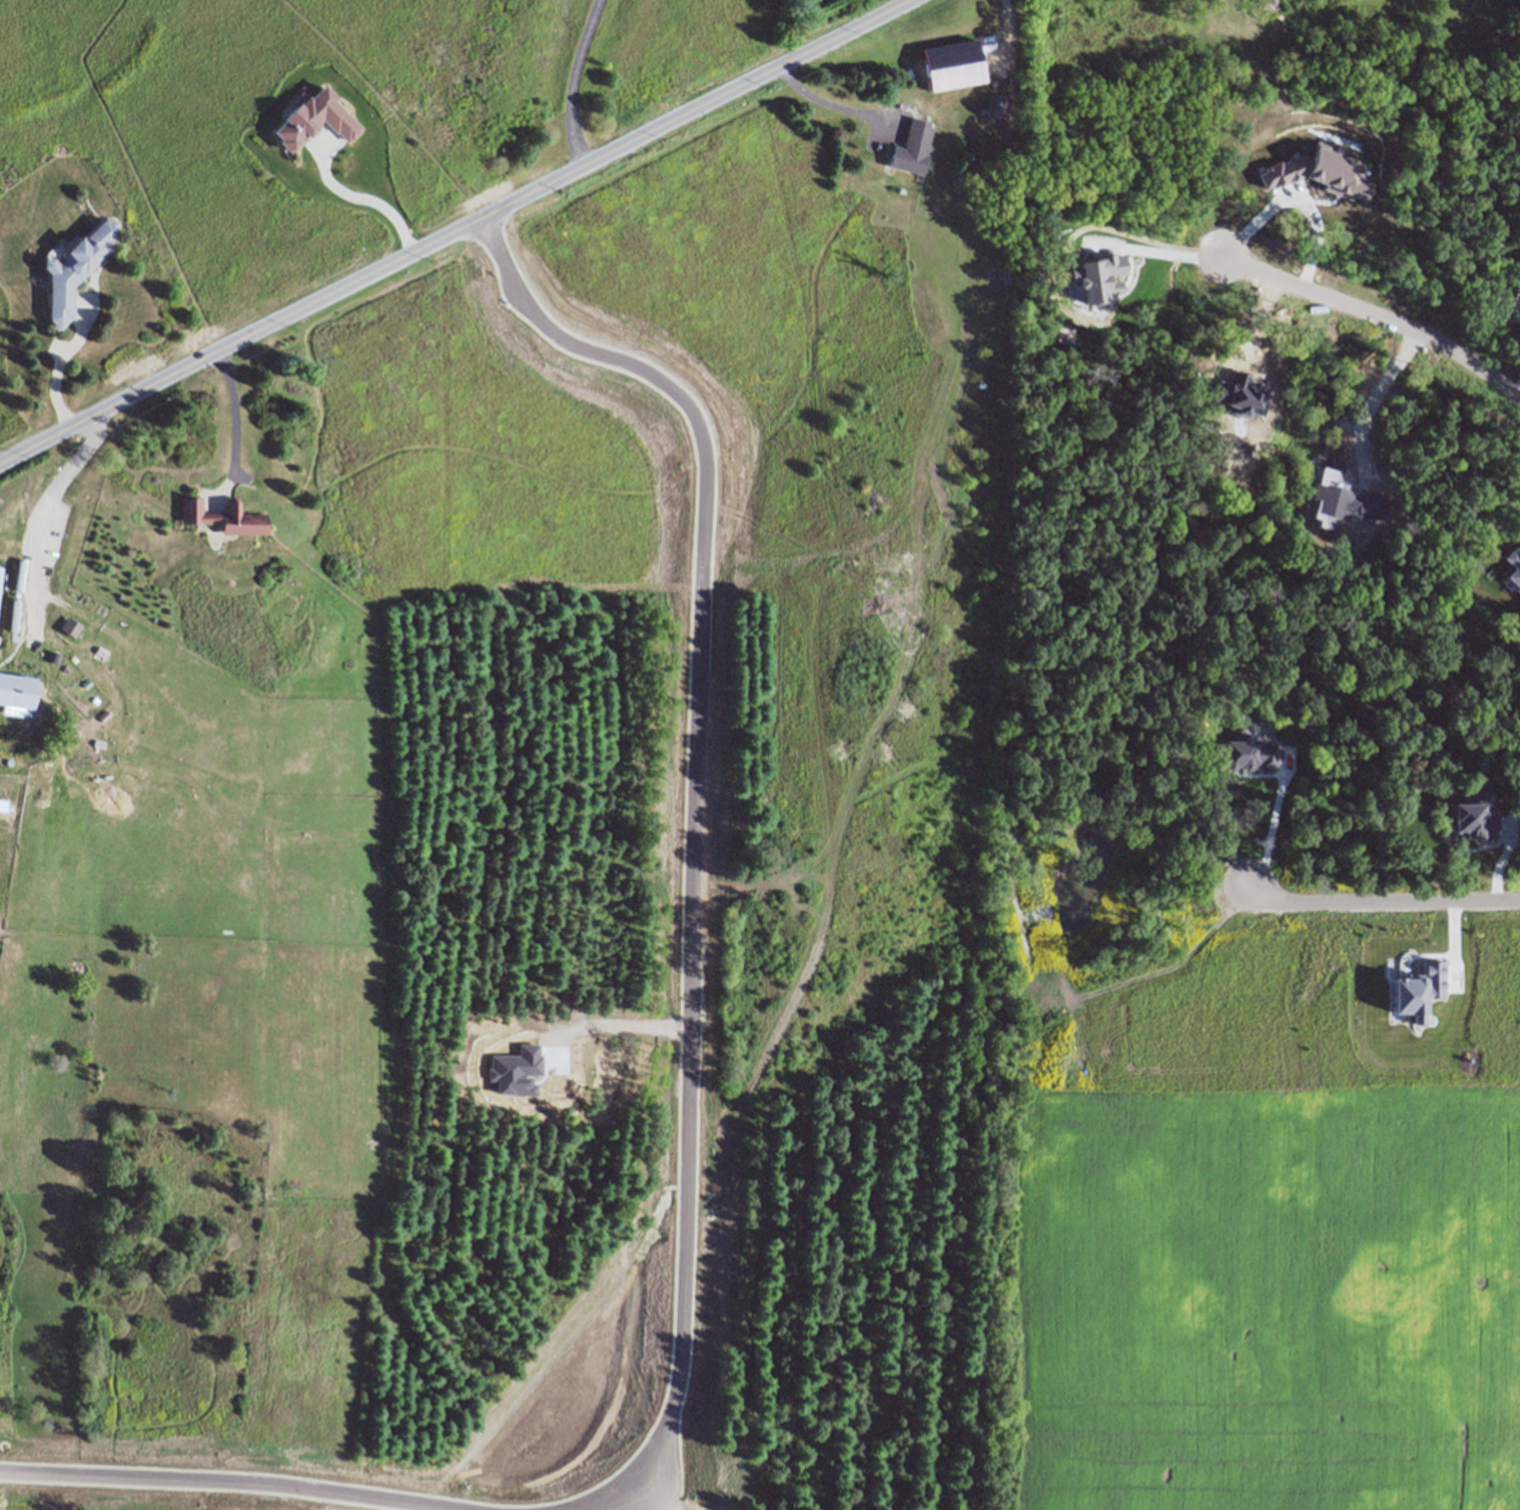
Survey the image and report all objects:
road: (575, 81)
road: (826, 102)
building: (996, 105)
building: (912, 146)
road: (362, 189)
road: (1295, 198)
road: (455, 231)
road: (1154, 252)
building: (76, 268)
road: (1376, 314)
road: (61, 362)
road: (1370, 403)
road: (233, 420)
building: (224, 517)
road: (39, 518)
building: (1, 574)
building: (17, 689)
road: (1270, 824)
road: (694, 842)
road: (1383, 901)
crop: (1255, 1208)
road: (235, 1480)
road: (651, 1497)

